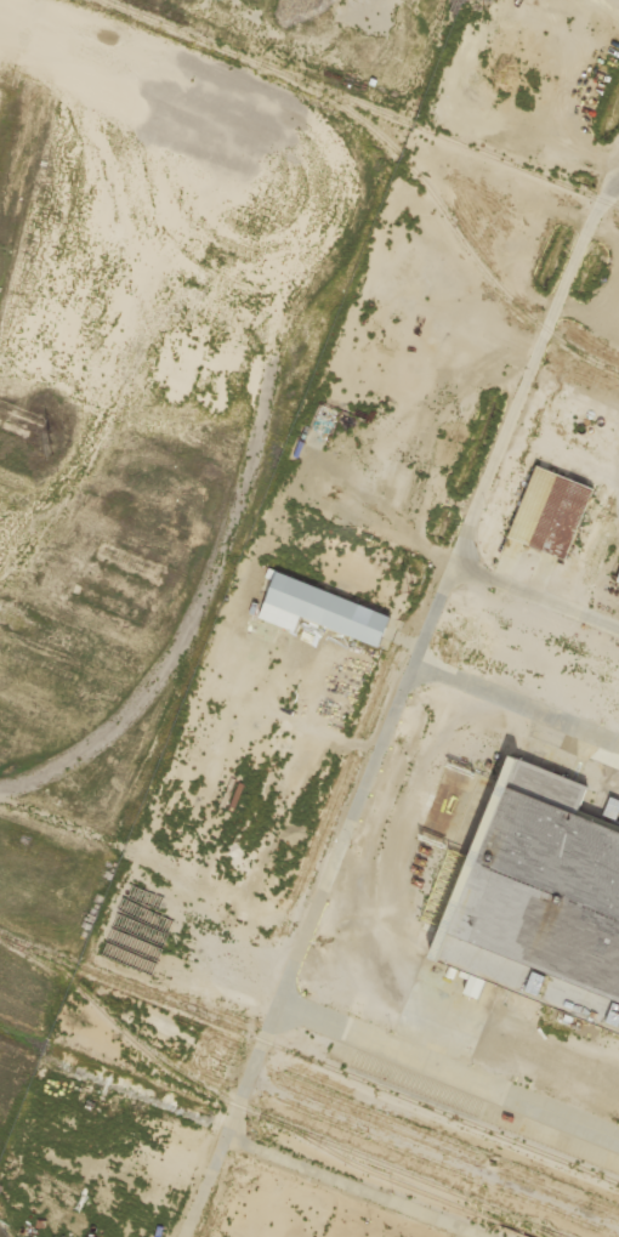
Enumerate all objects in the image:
railway: (360, 104)
railway: (444, 212)
power tower: (53, 447)
building: (551, 511)
building: (618, 580)
power tower: (413, 589)
building: (322, 609)
building: (541, 901)
railway: (309, 1057)
railway: (266, 1114)
railway: (397, 1180)
railway: (552, 1232)

